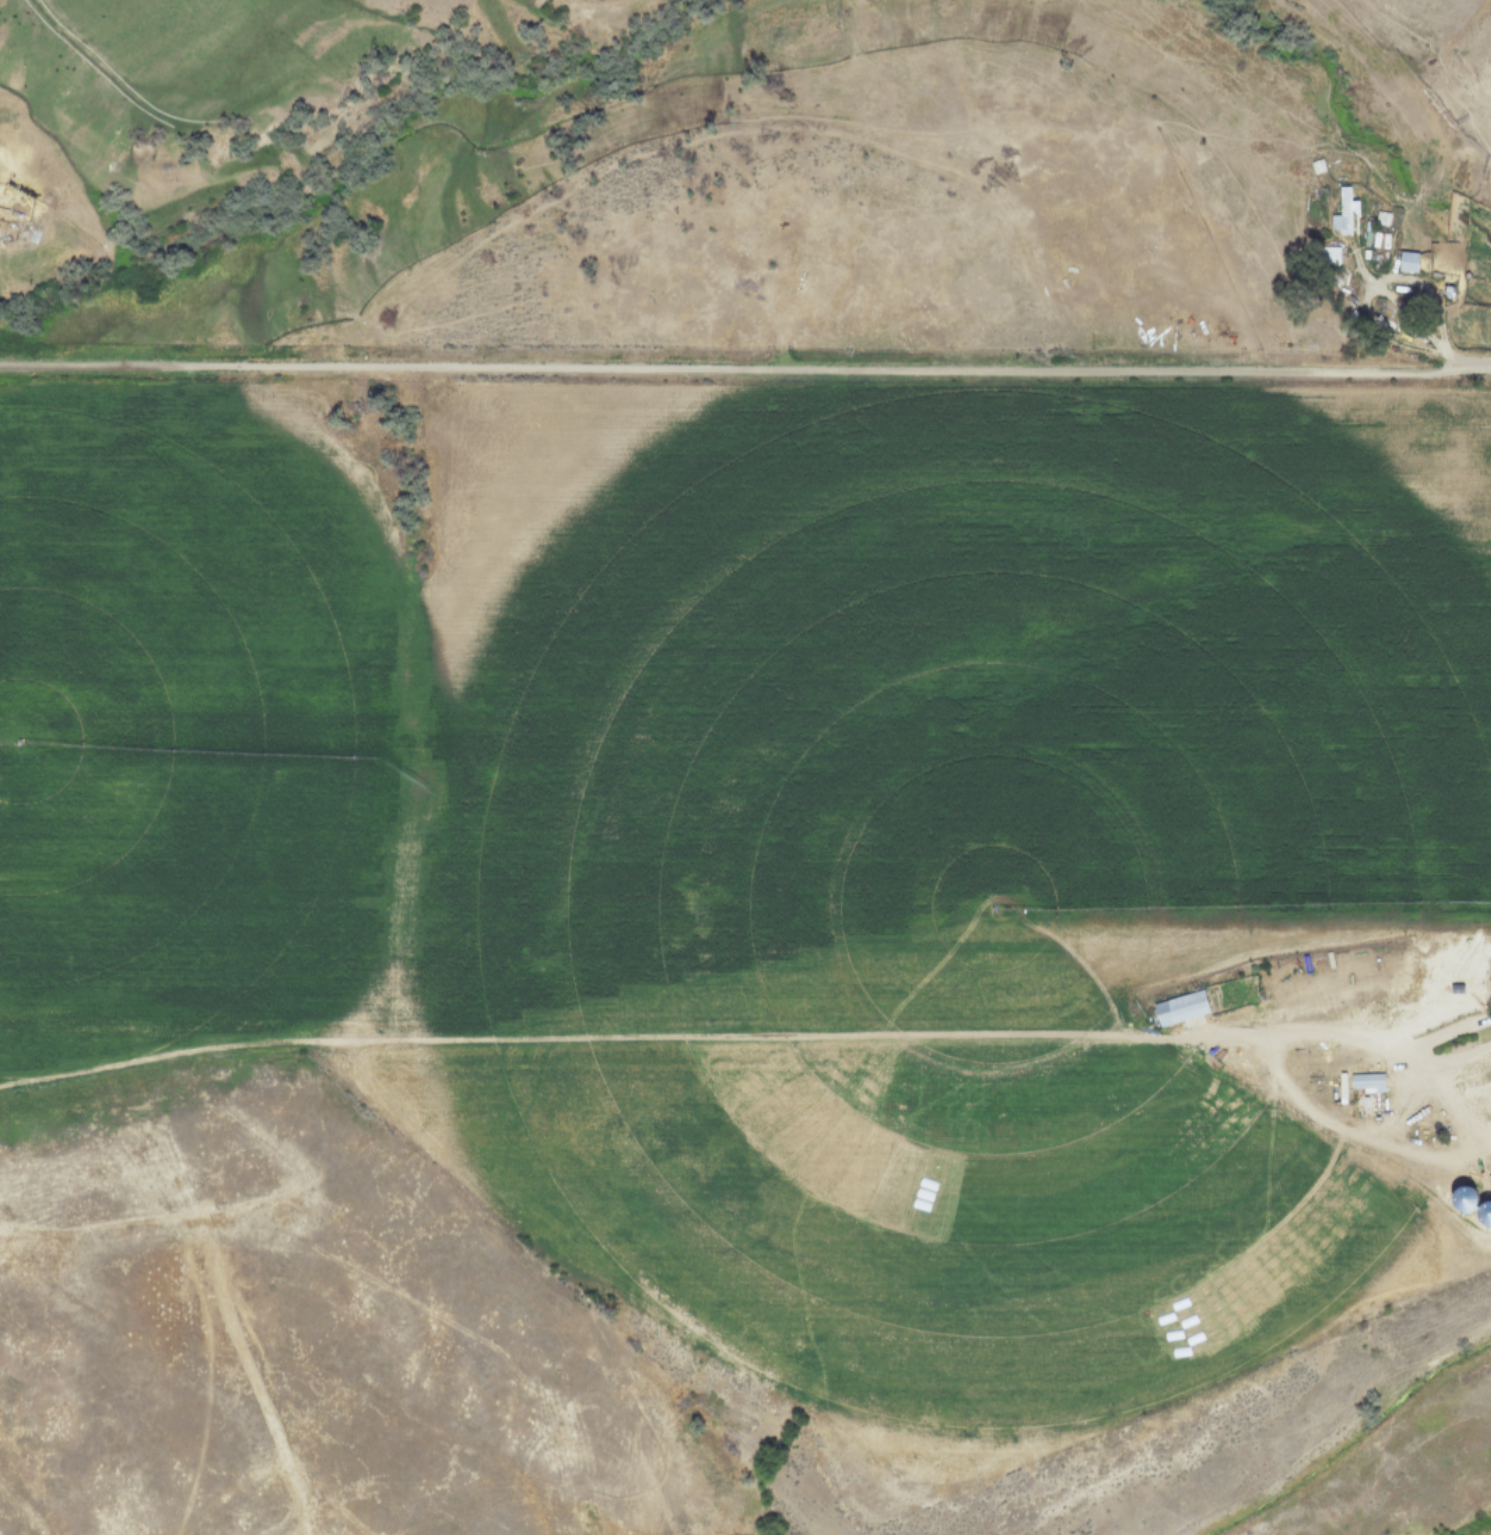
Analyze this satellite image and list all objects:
building: (1341, 213)
building: (1407, 261)
road: (745, 365)
building: (1490, 988)
building: (1180, 1007)
road: (747, 1038)
building: (1367, 1082)

